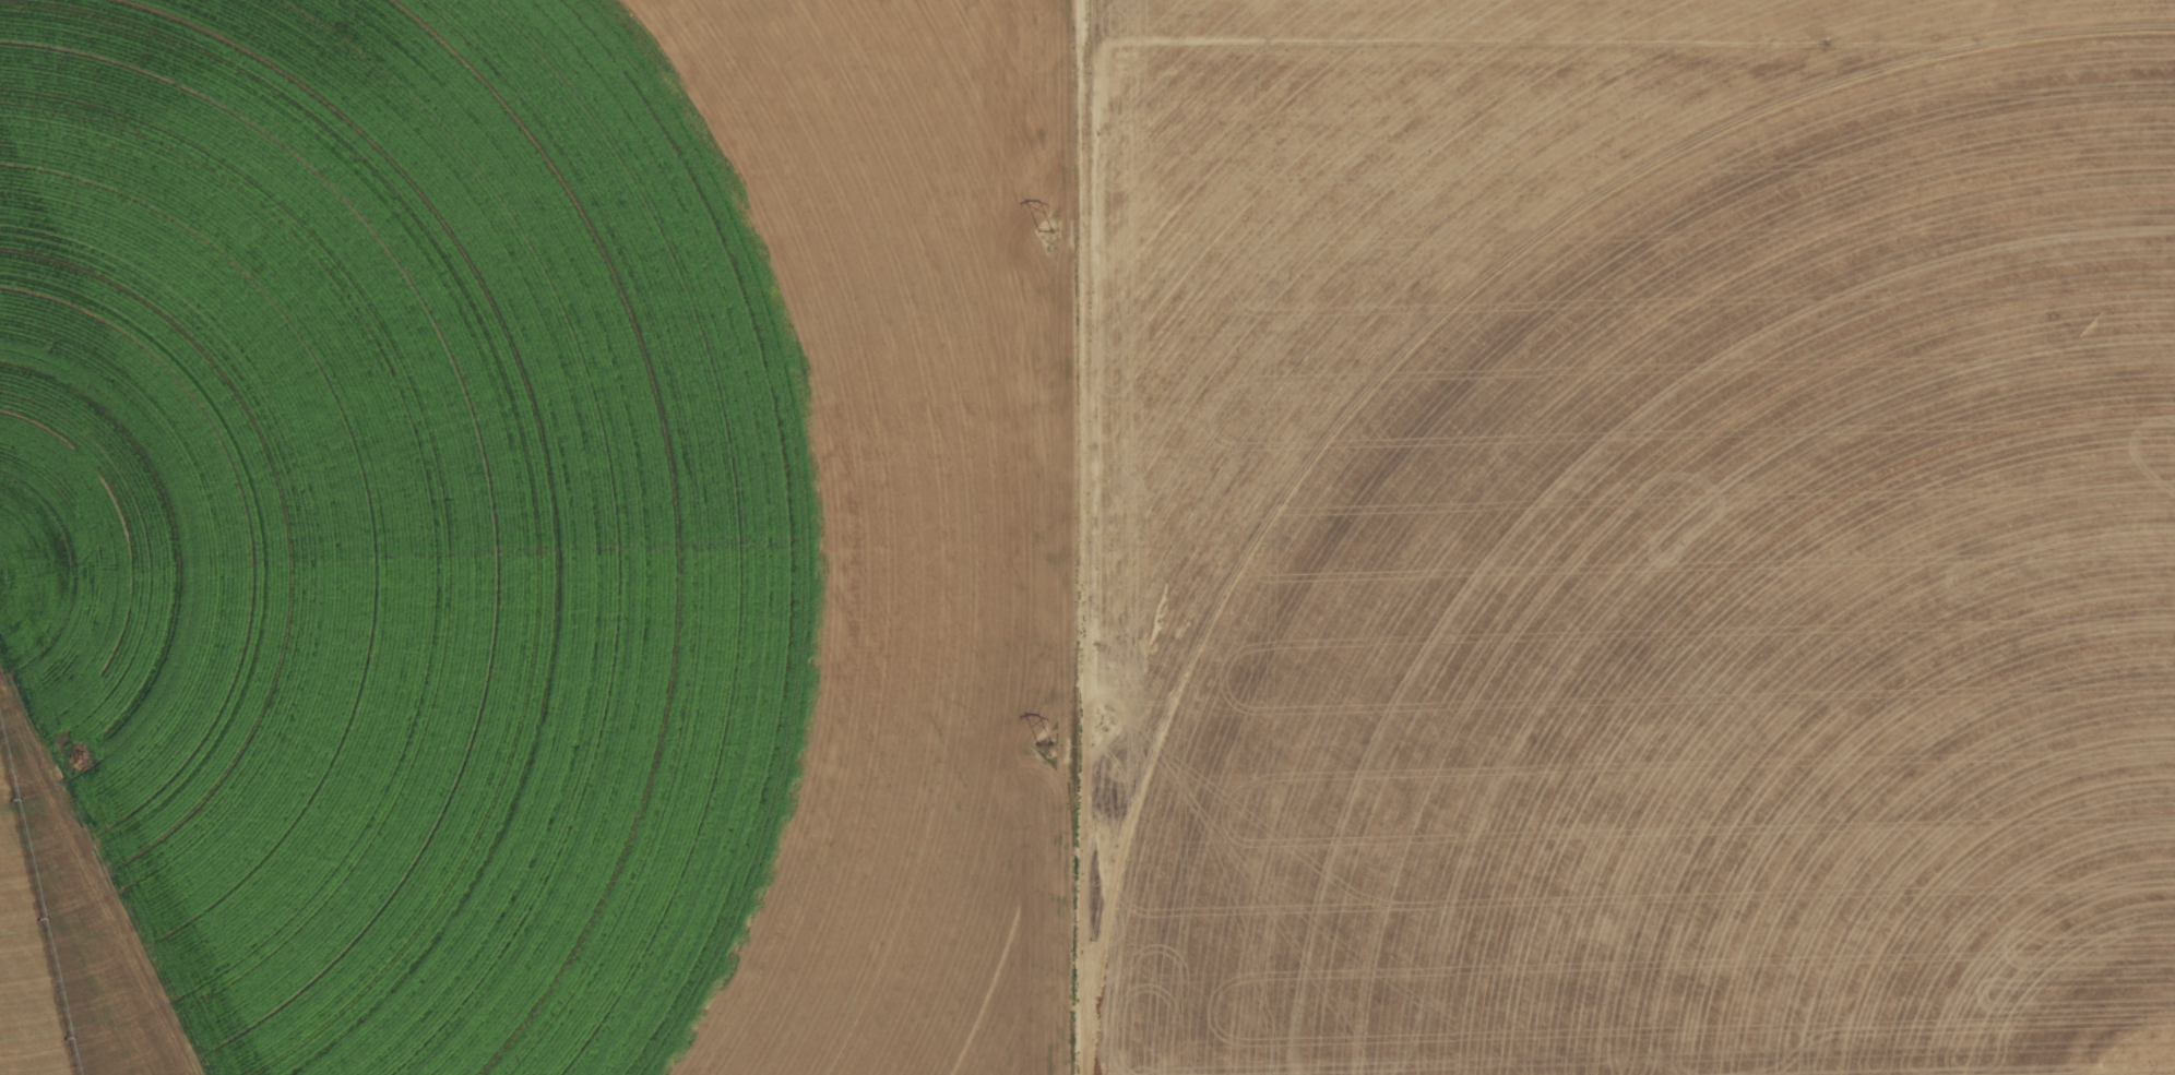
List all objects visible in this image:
power tower: (1047, 234)
road: (1010, 536)
road: (44, 686)
power tower: (1045, 743)

